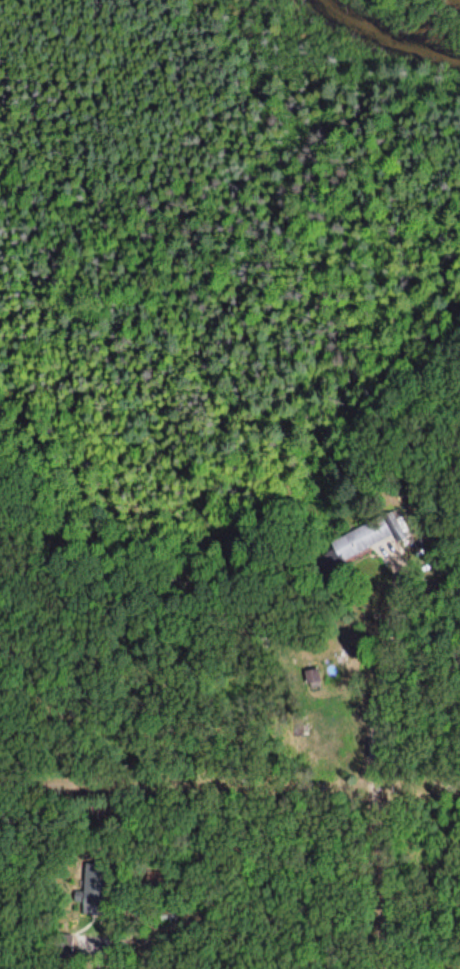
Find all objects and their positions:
building: (362, 539)
building: (312, 677)
road: (419, 784)
building: (96, 888)

